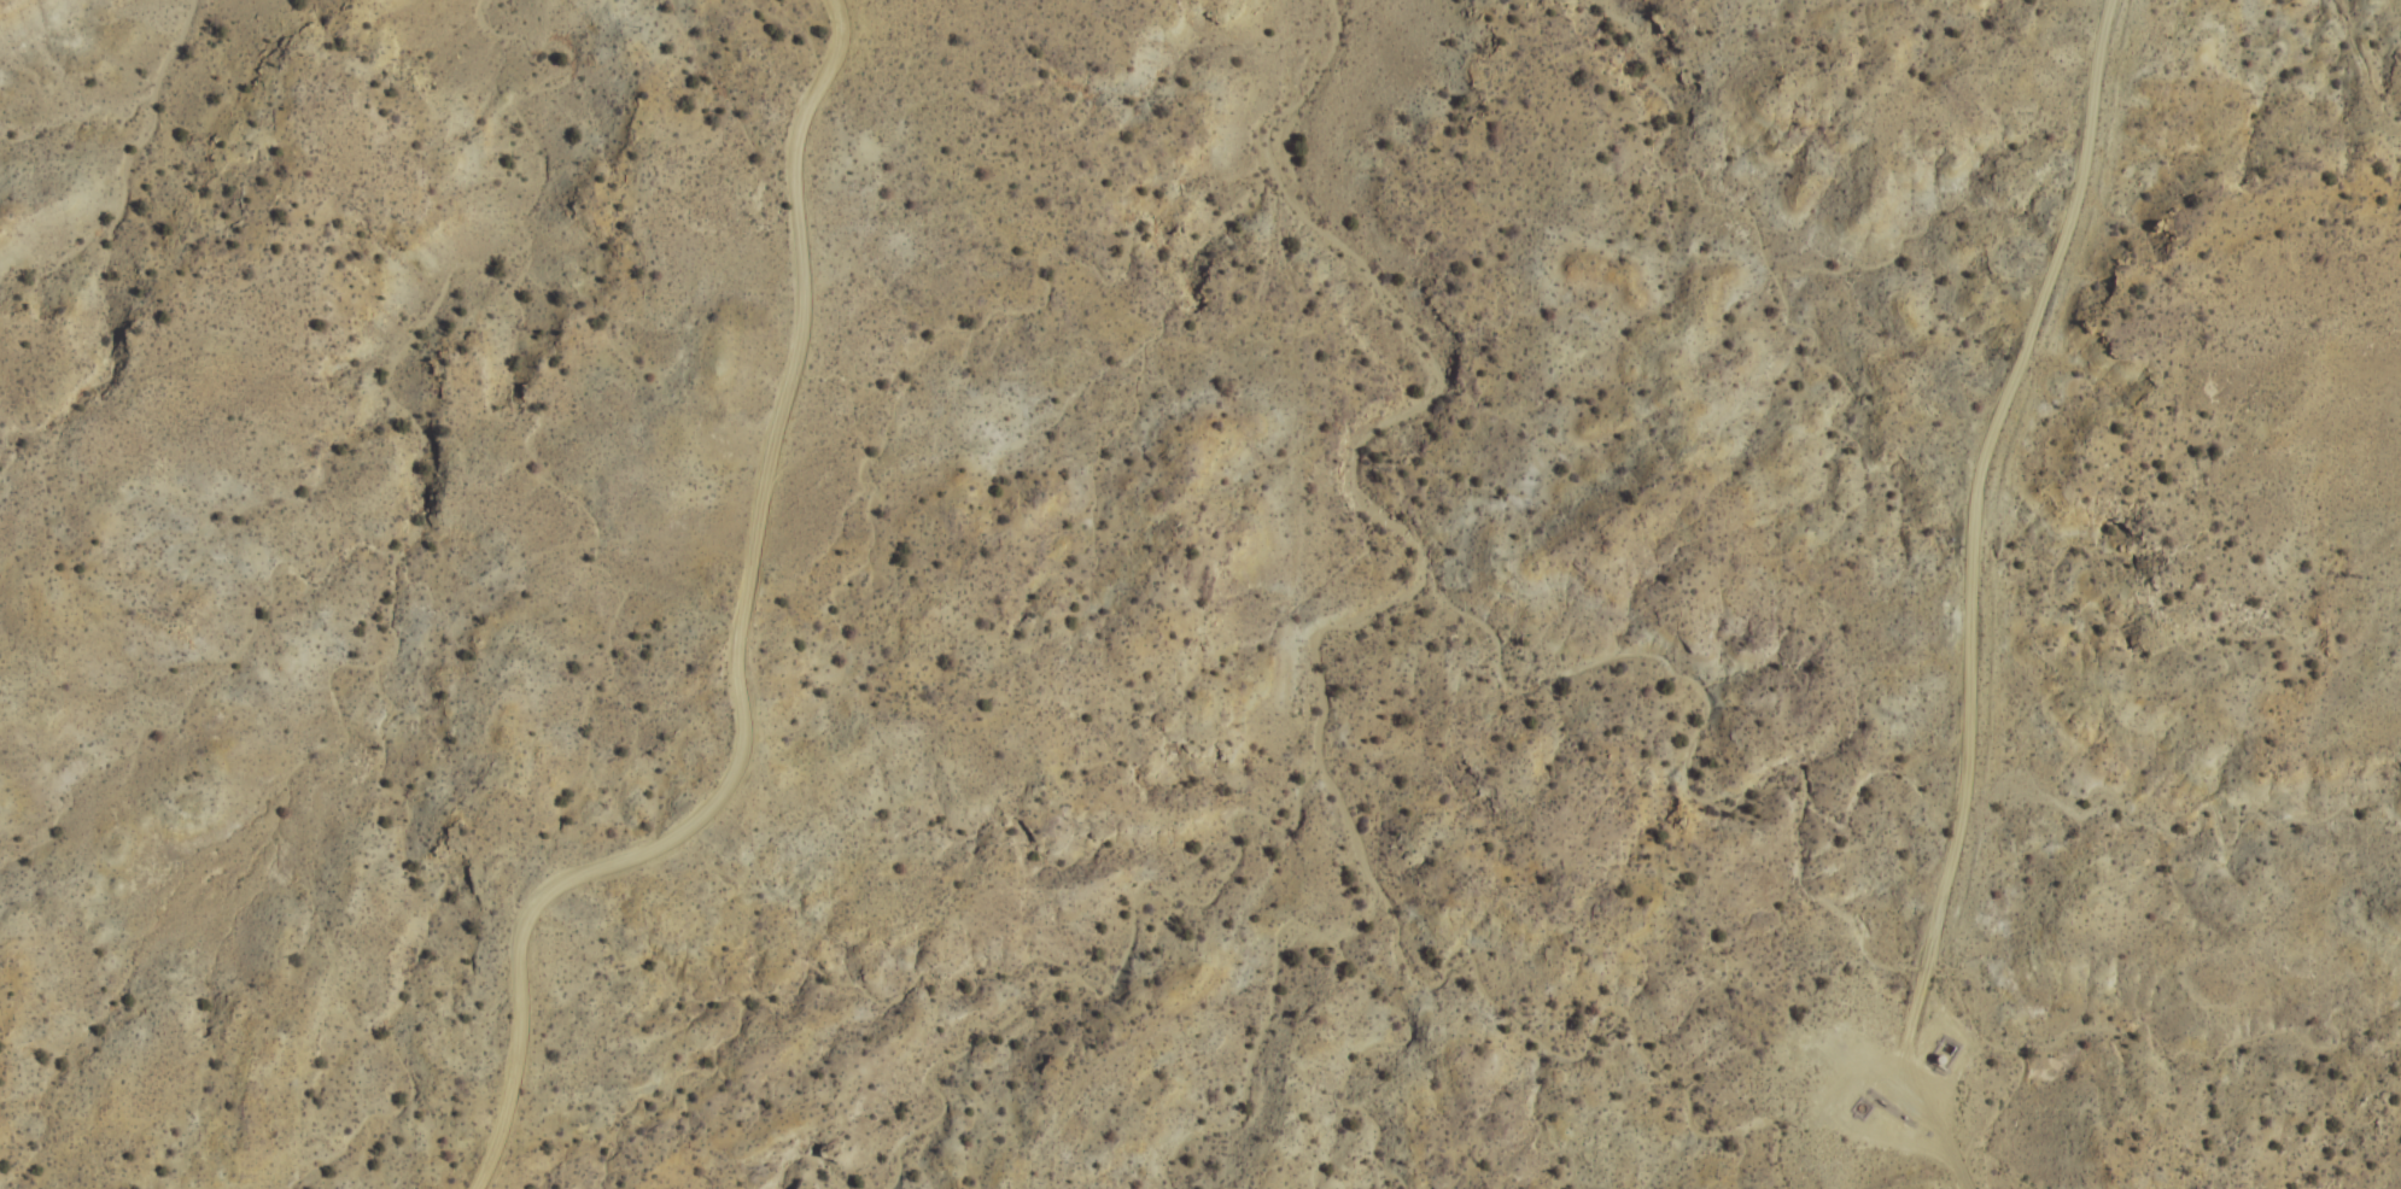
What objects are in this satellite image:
road: (738, 649)

